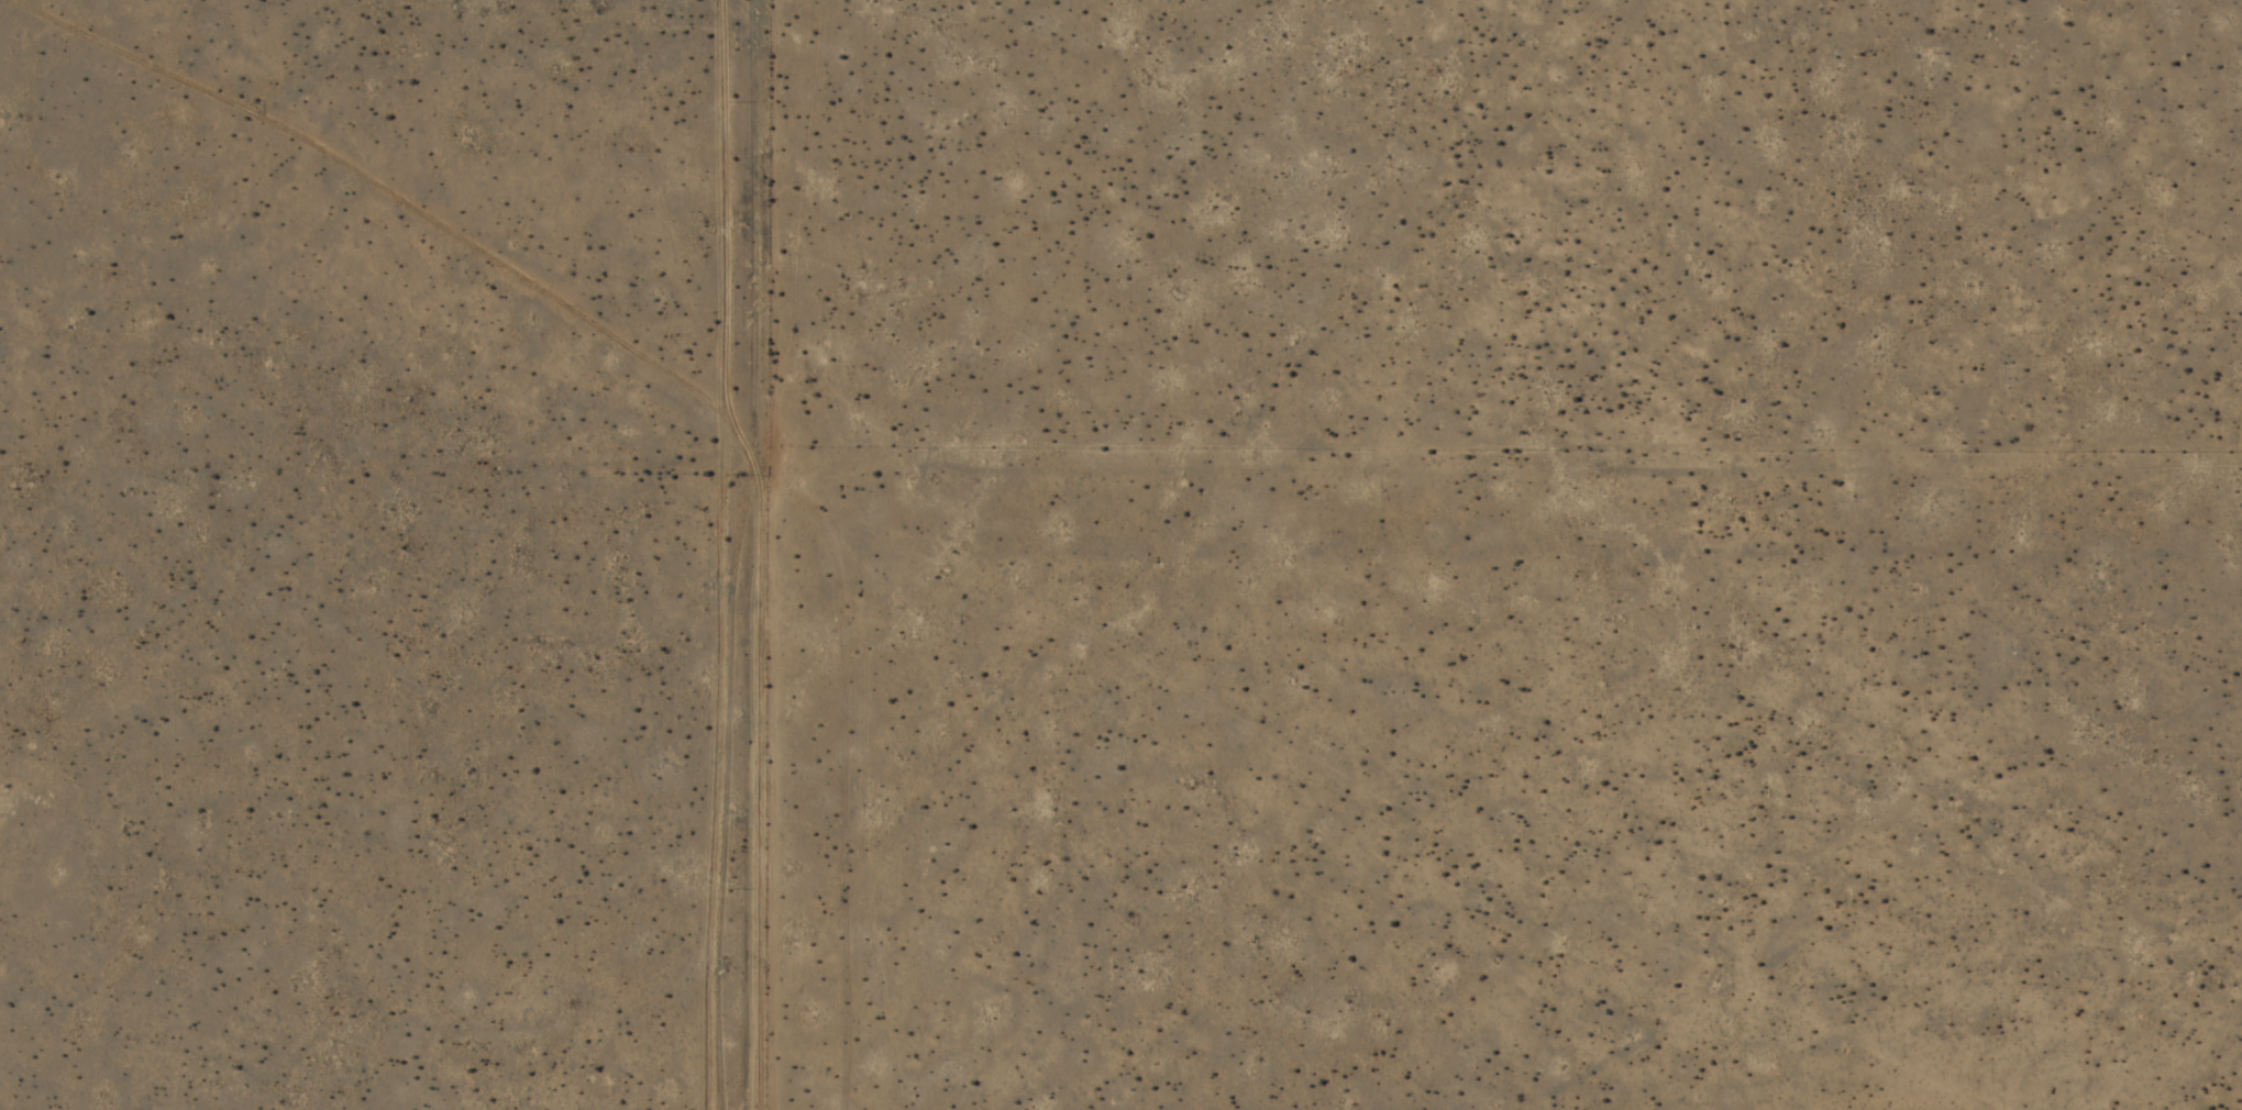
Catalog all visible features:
road: (1493, 463)
road: (744, 554)

